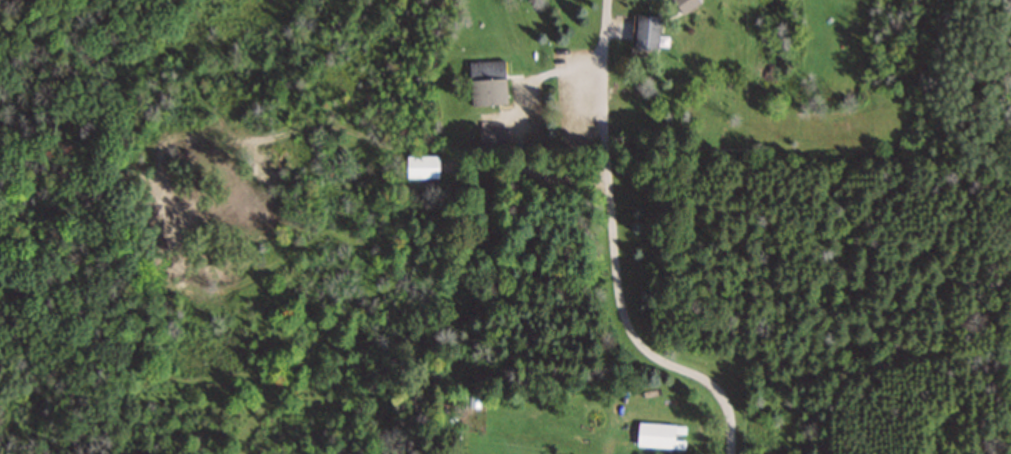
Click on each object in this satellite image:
building: (445, 1)
building: (685, 5)
building: (644, 33)
building: (487, 82)
building: (492, 137)
building: (420, 166)
building: (654, 434)

